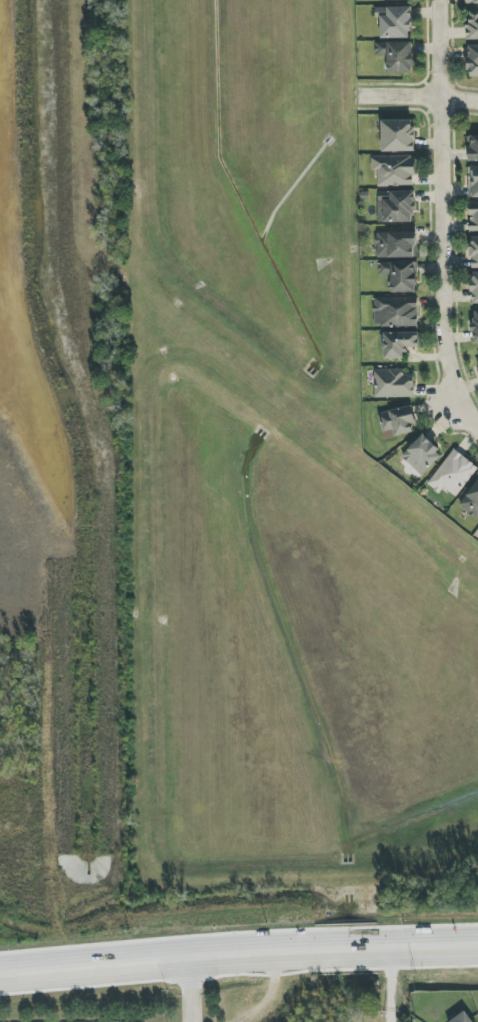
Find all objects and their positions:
building: (381, 0)
building: (471, 2)
building: (394, 22)
building: (472, 25)
building: (397, 56)
building: (473, 61)
road: (419, 97)
building: (397, 135)
building: (473, 148)
building: (394, 170)
building: (474, 181)
building: (397, 207)
road: (439, 221)
building: (397, 245)
building: (474, 252)
building: (400, 275)
building: (474, 287)
building: (396, 312)
building: (475, 326)
building: (399, 344)
building: (477, 362)
building: (393, 384)
building: (397, 421)
building: (422, 455)
building: (453, 474)
building: (471, 501)
road: (238, 945)
road: (400, 980)
road: (191, 985)

